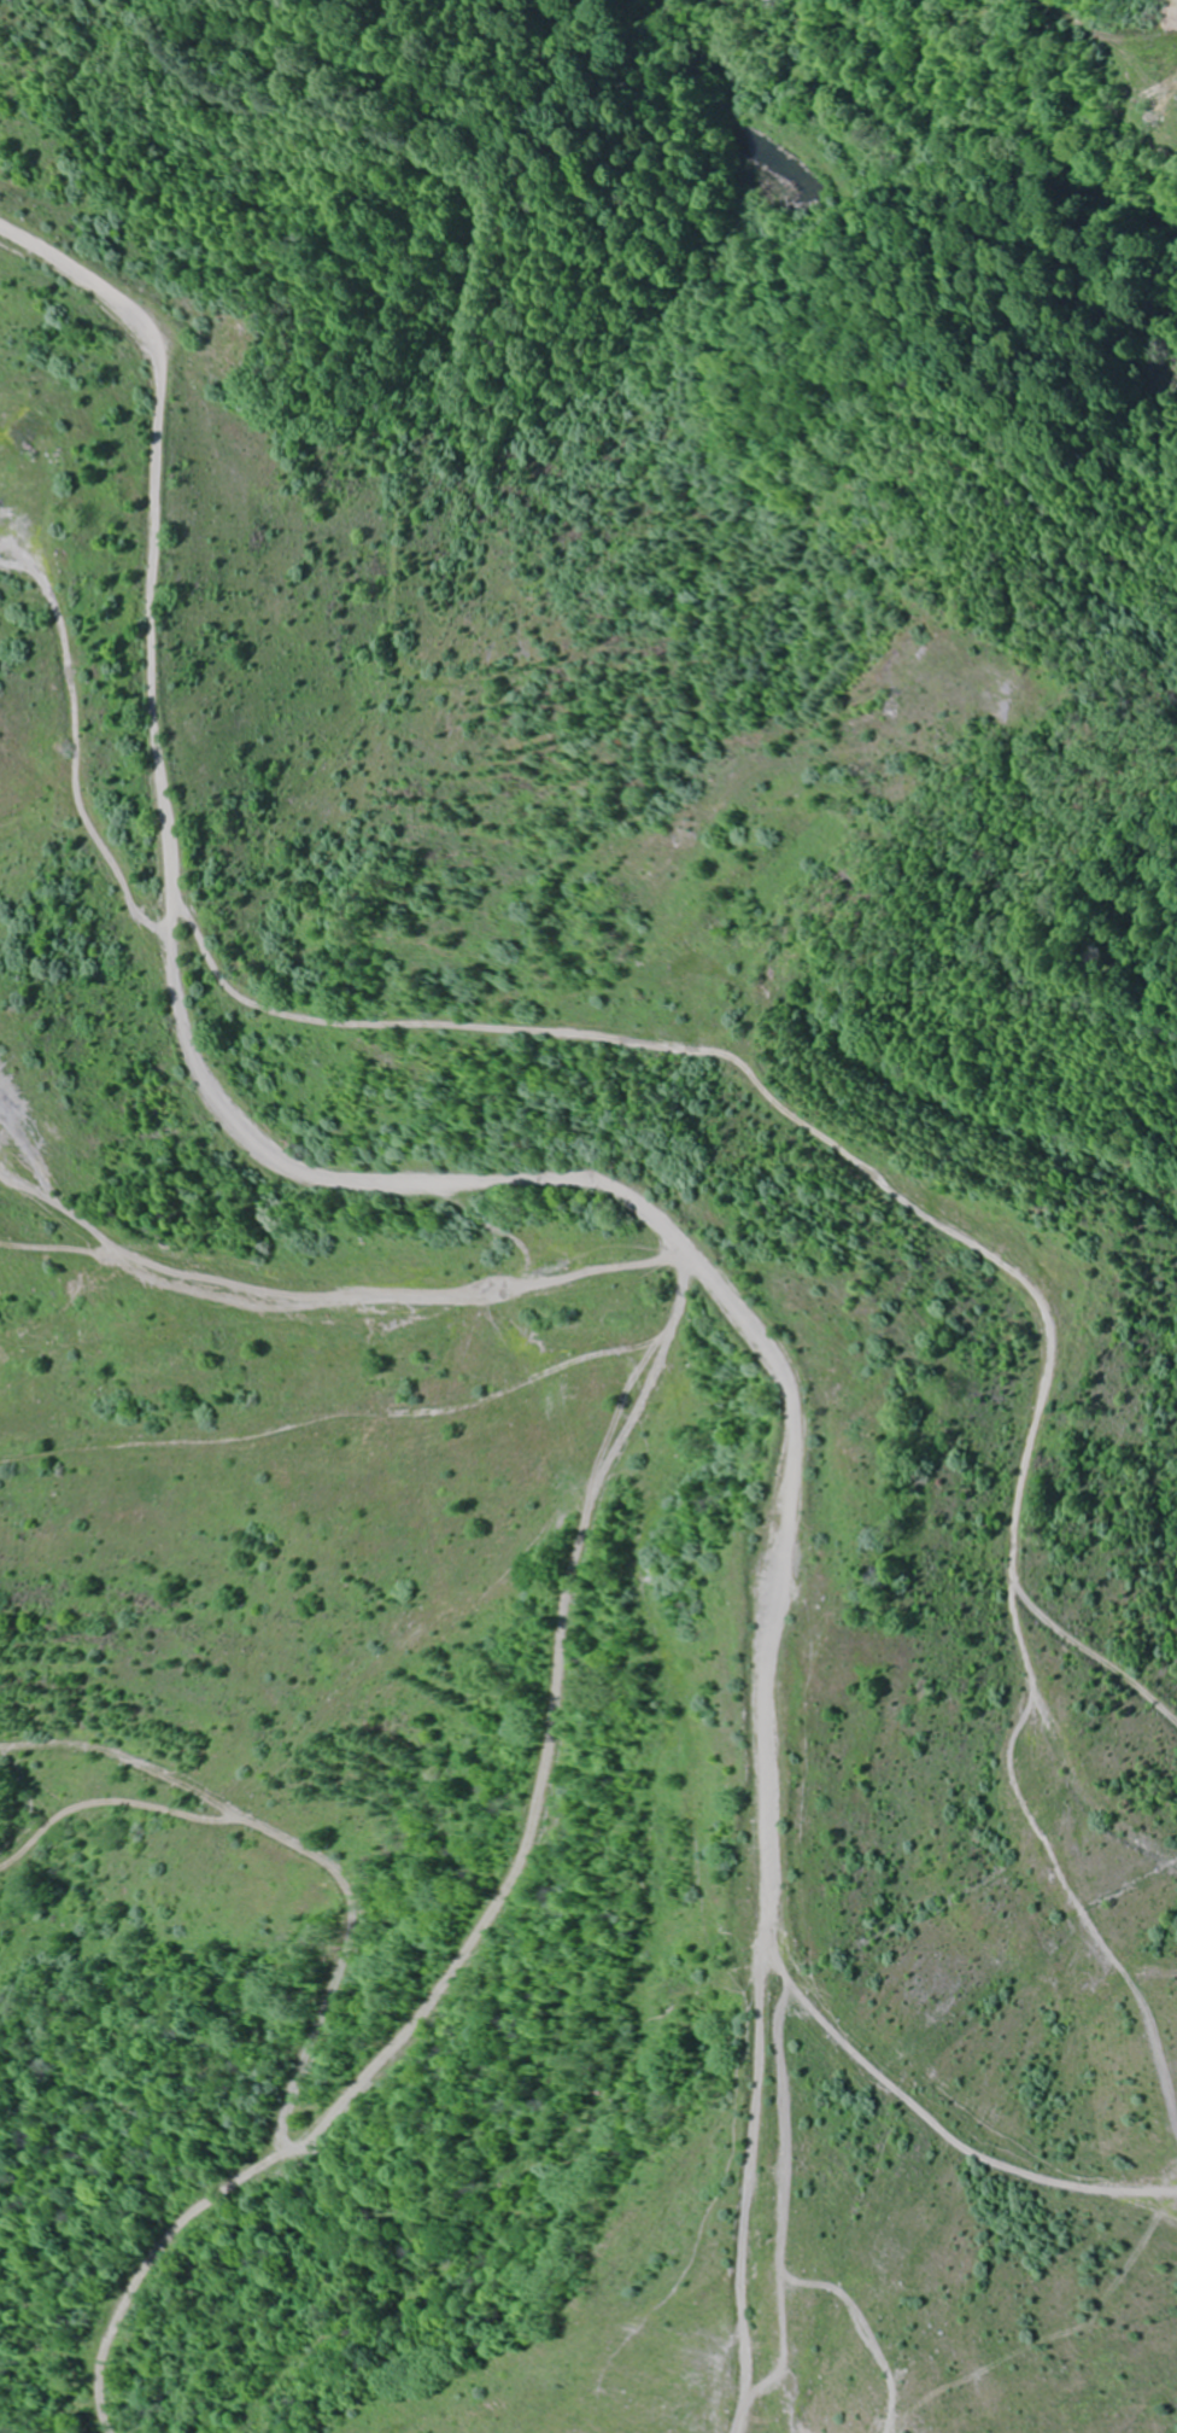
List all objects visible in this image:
road: (340, 1172)
road: (118, 1798)
road: (420, 2030)

